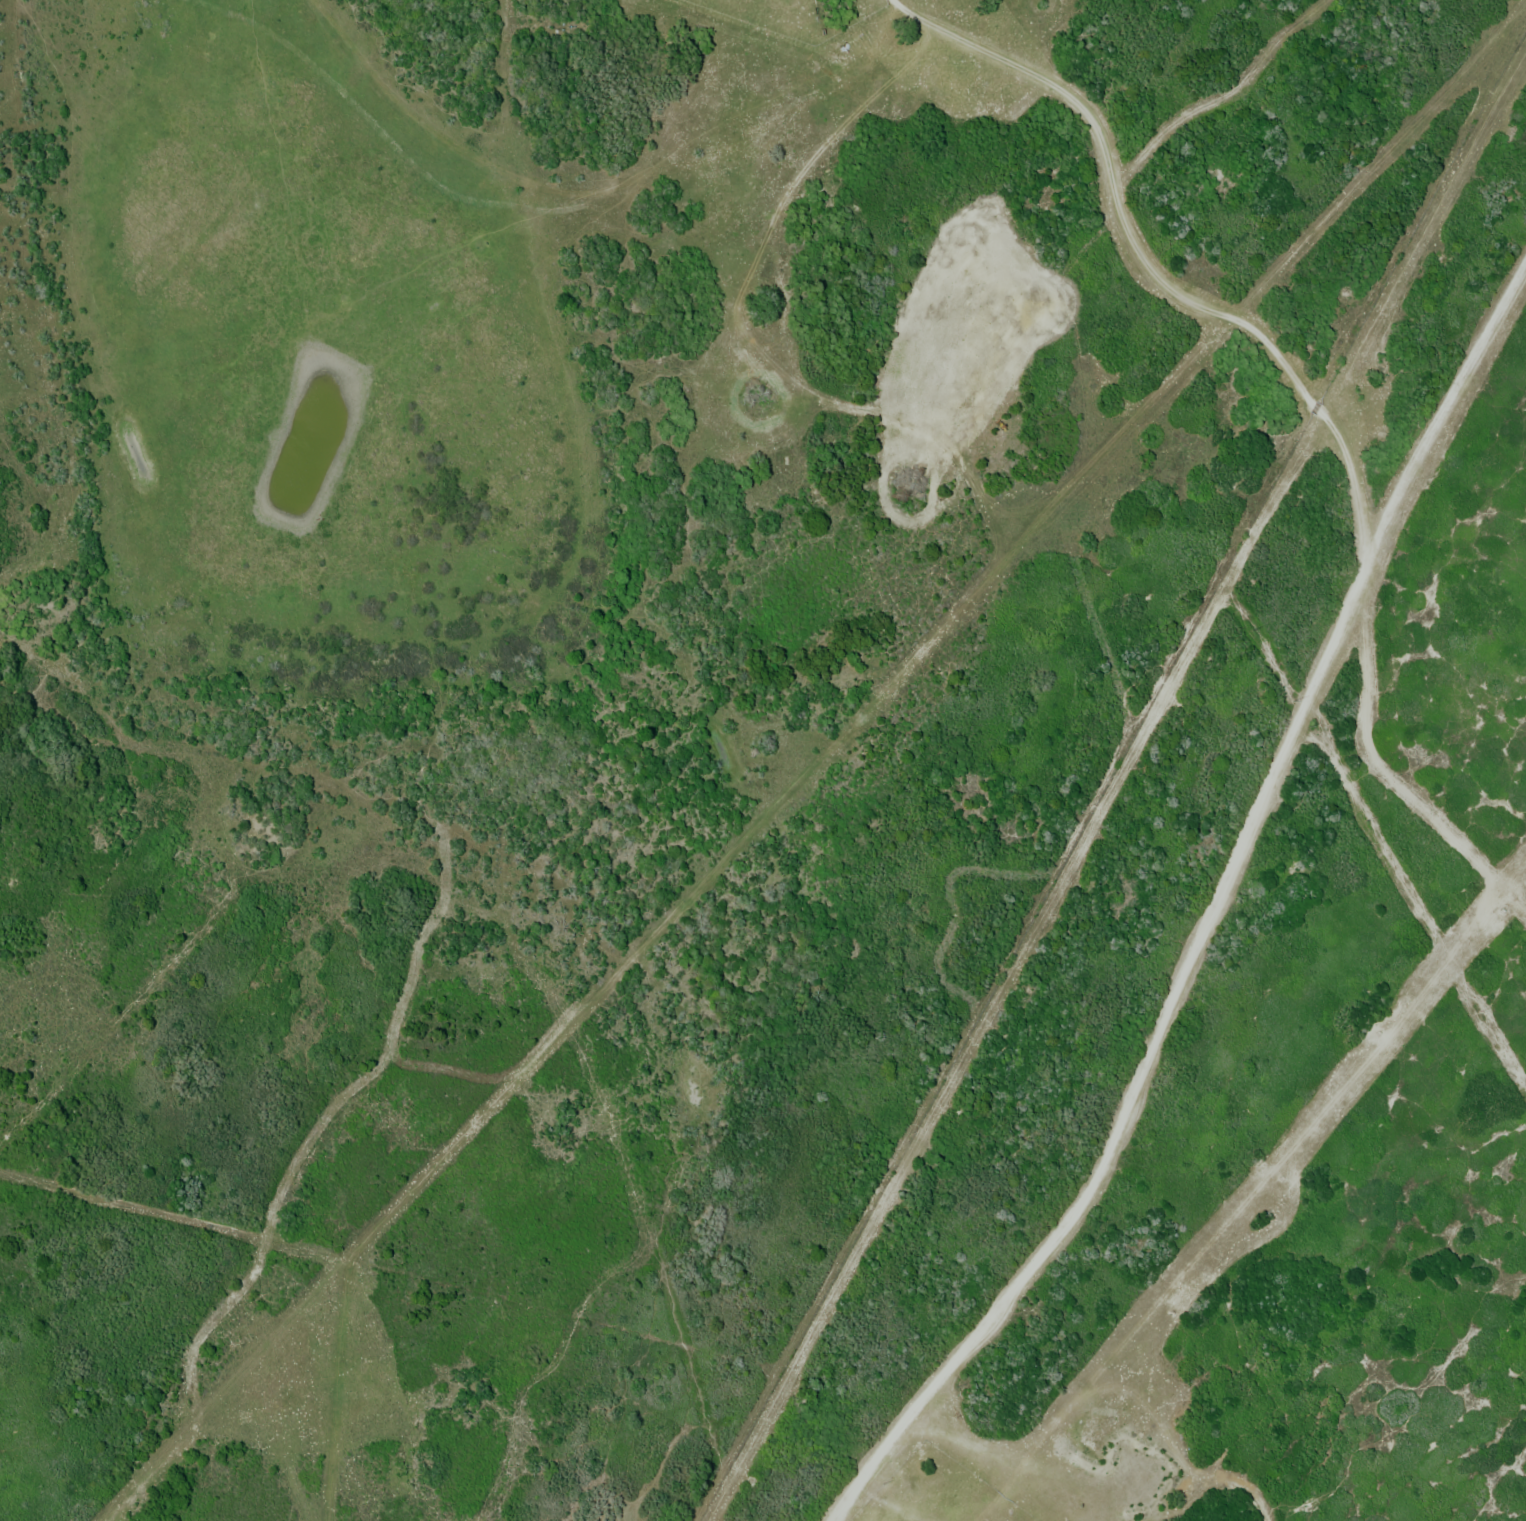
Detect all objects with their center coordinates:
road: (875, 1484)

